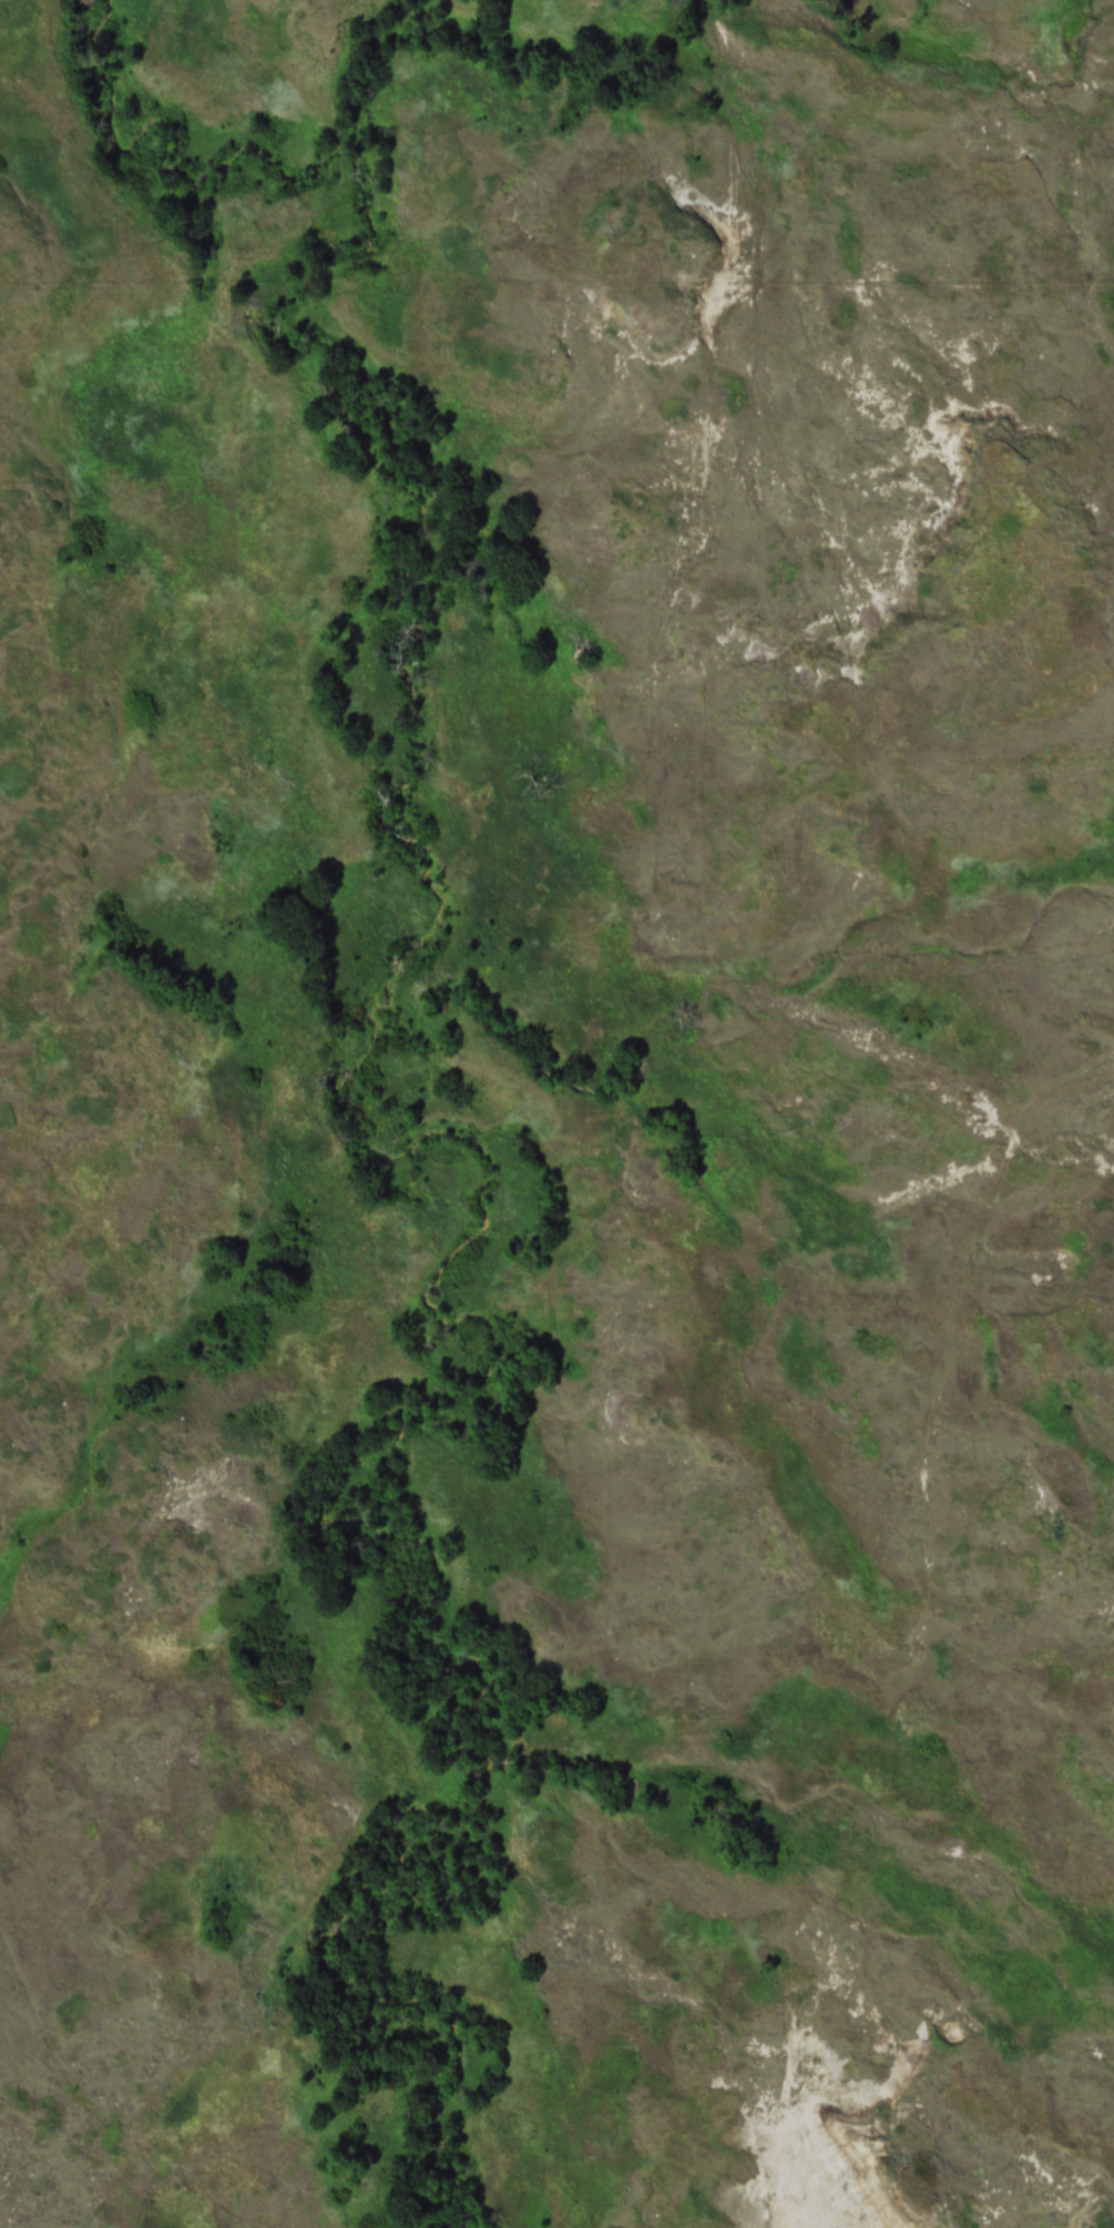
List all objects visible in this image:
road: (921, 1625)

